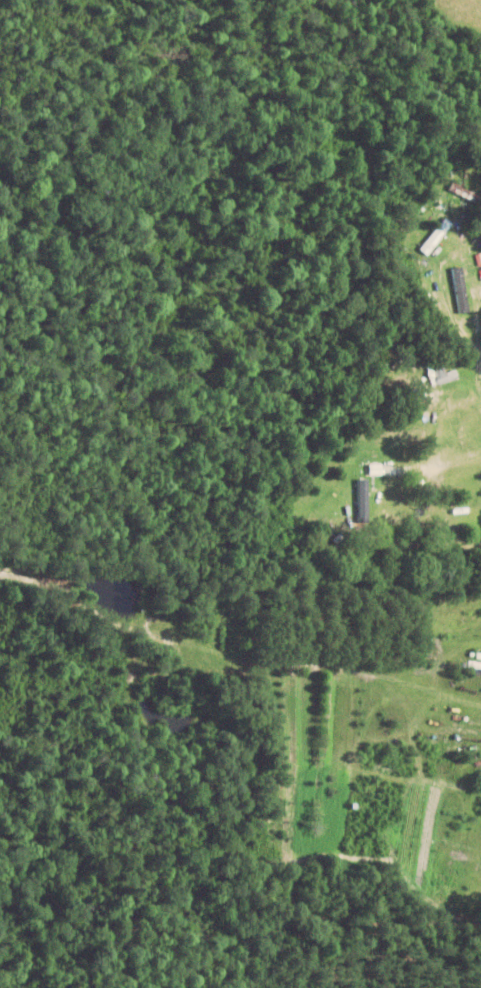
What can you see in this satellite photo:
building: (465, 193)
building: (383, 217)
building: (436, 237)
building: (461, 291)
building: (445, 376)
building: (365, 499)

